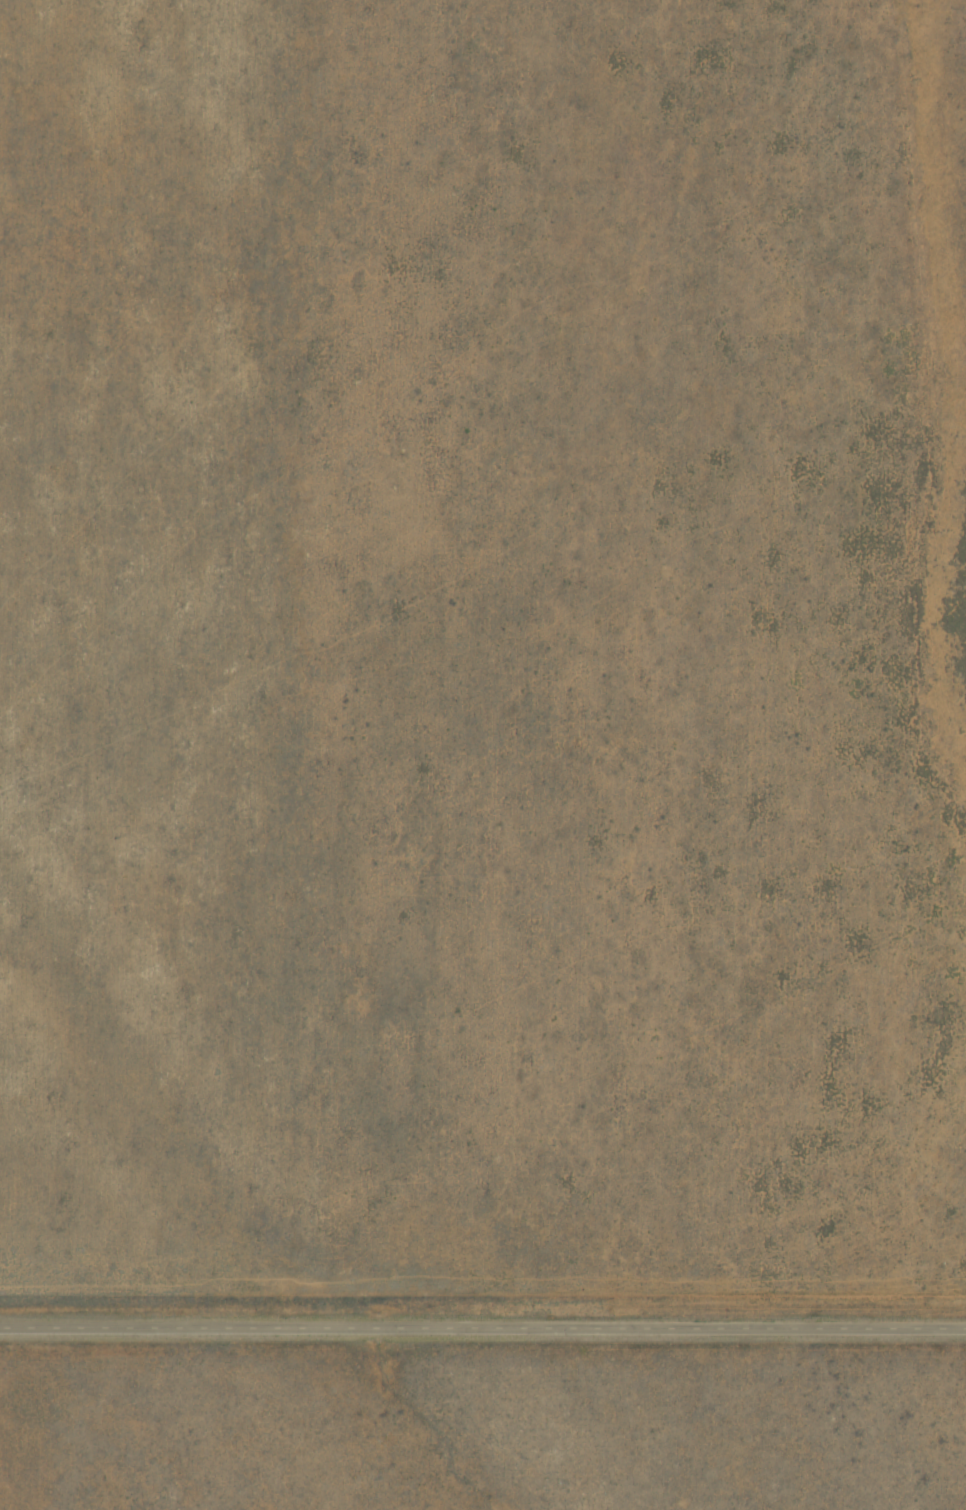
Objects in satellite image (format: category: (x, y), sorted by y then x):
road: (483, 1330)

